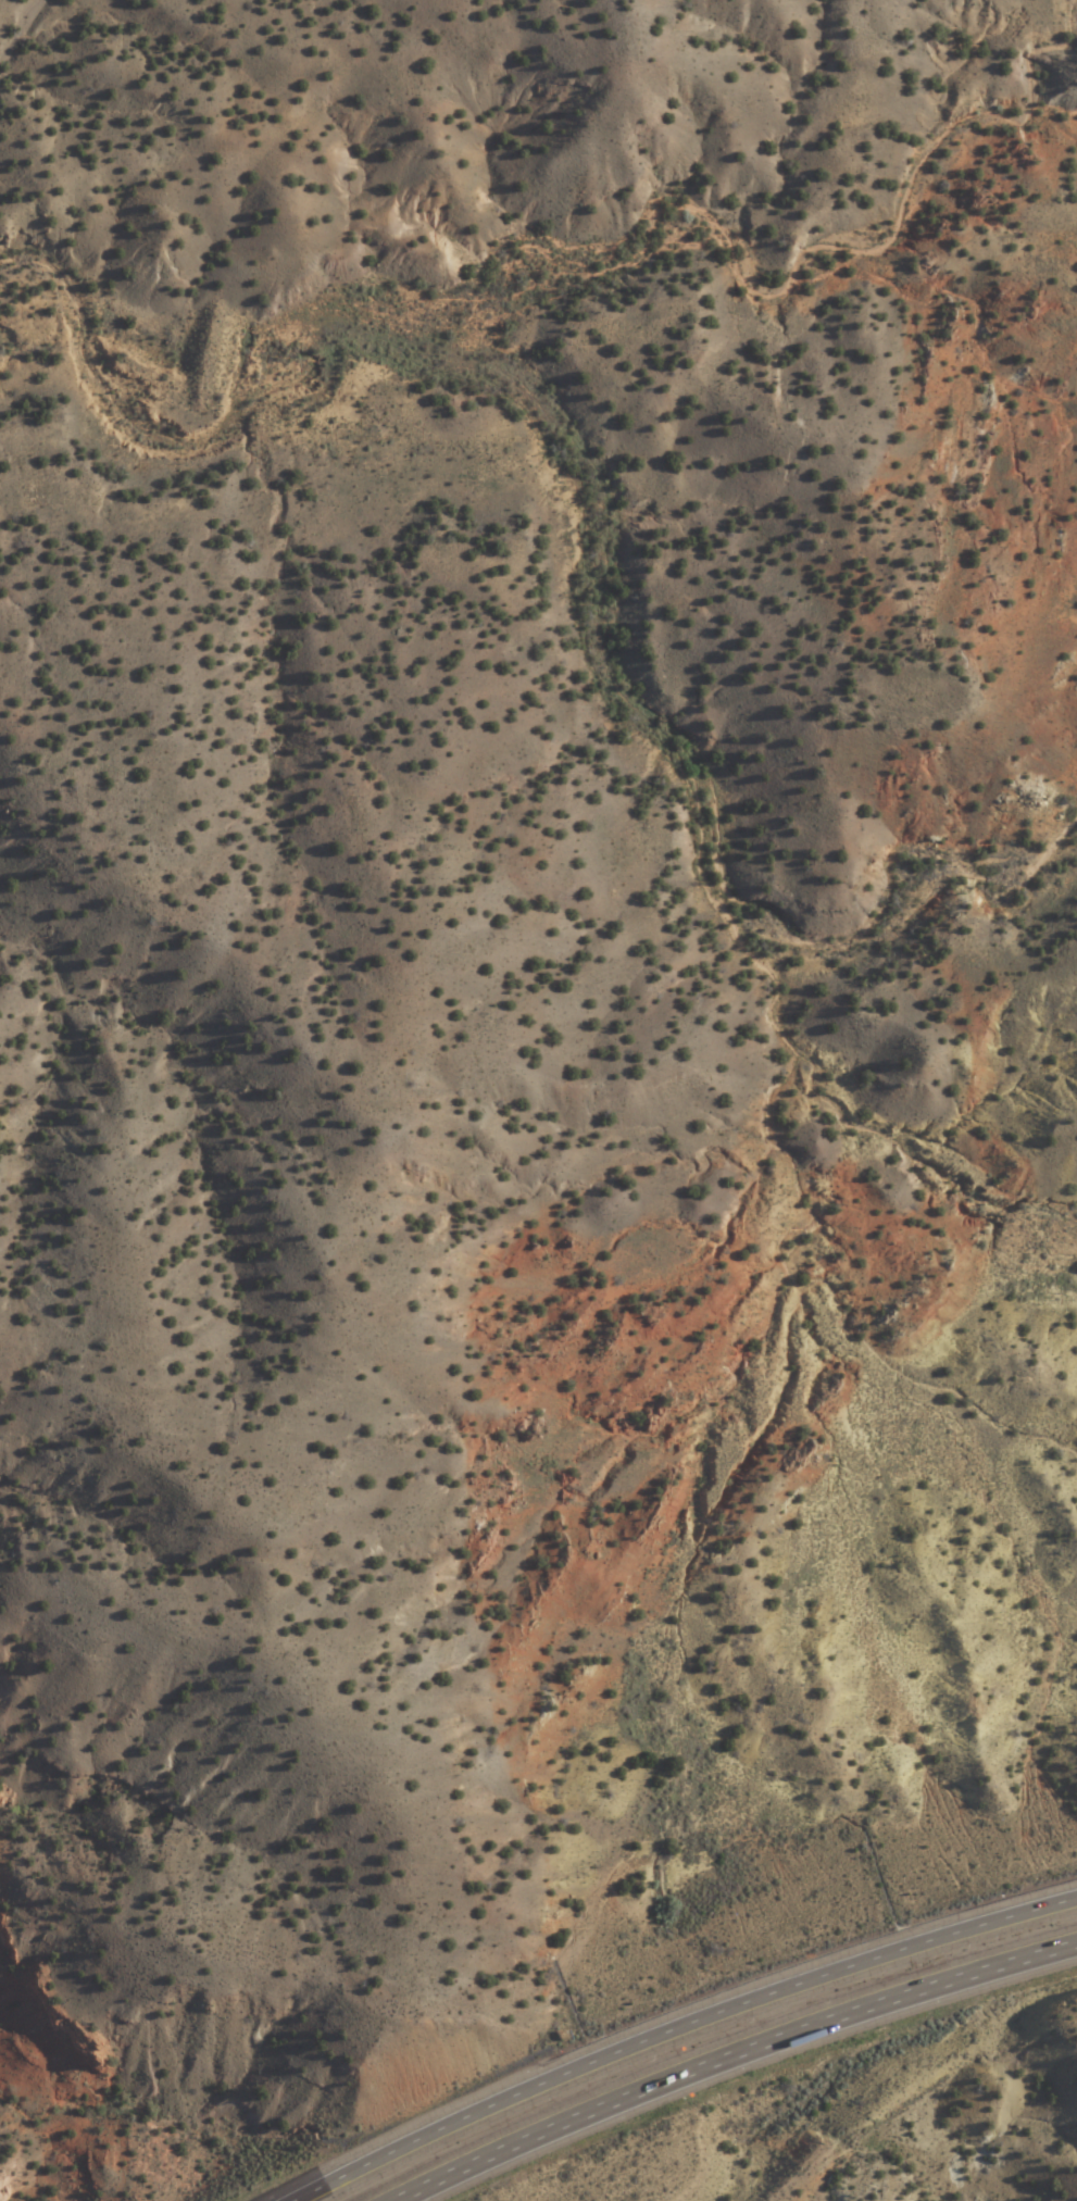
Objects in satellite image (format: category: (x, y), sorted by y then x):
road: (684, 2029)
road: (732, 2058)

